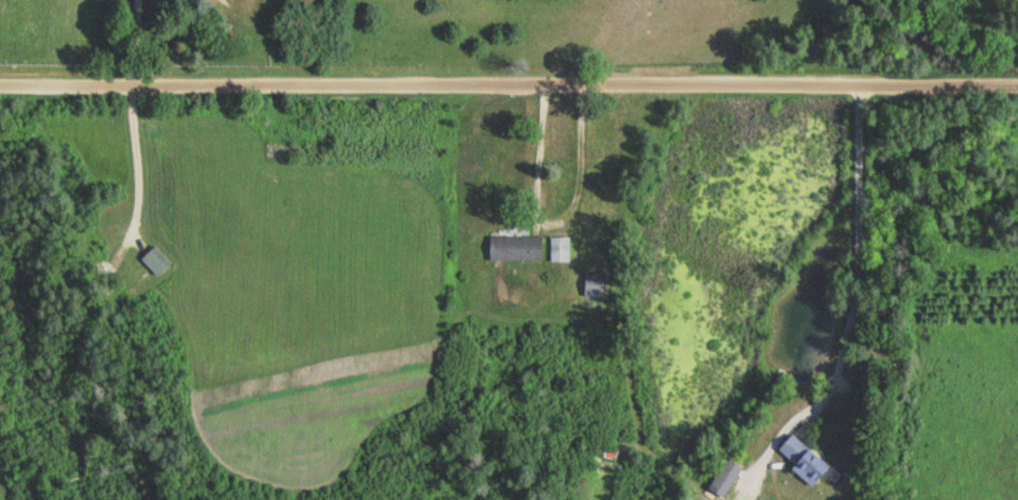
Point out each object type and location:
road: (127, 40)
road: (508, 81)
building: (276, 151)
road: (125, 155)
road: (861, 244)
building: (89, 246)
building: (516, 248)
building: (559, 250)
building: (156, 261)
building: (593, 285)
building: (611, 453)
building: (802, 459)
building: (724, 478)

